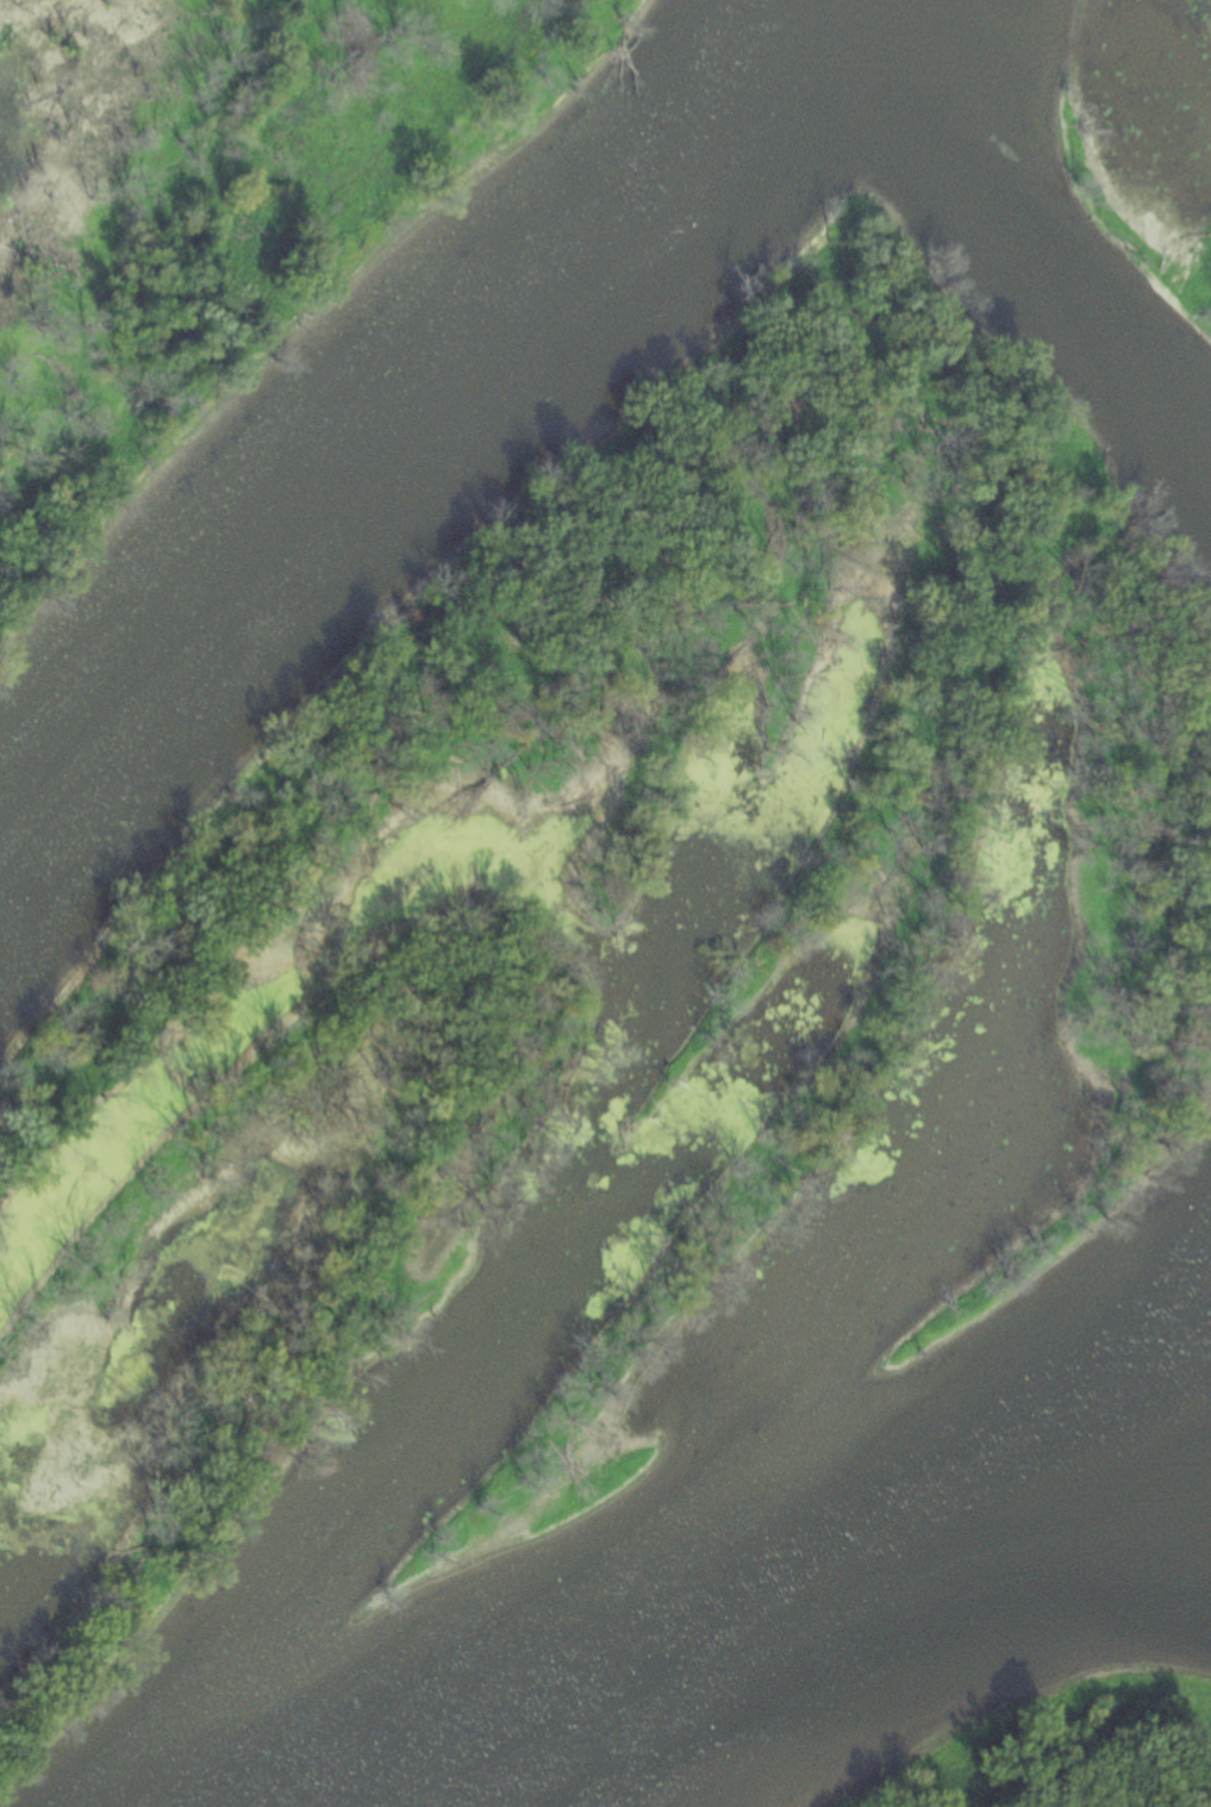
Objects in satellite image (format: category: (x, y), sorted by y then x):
river: (426, 441)

